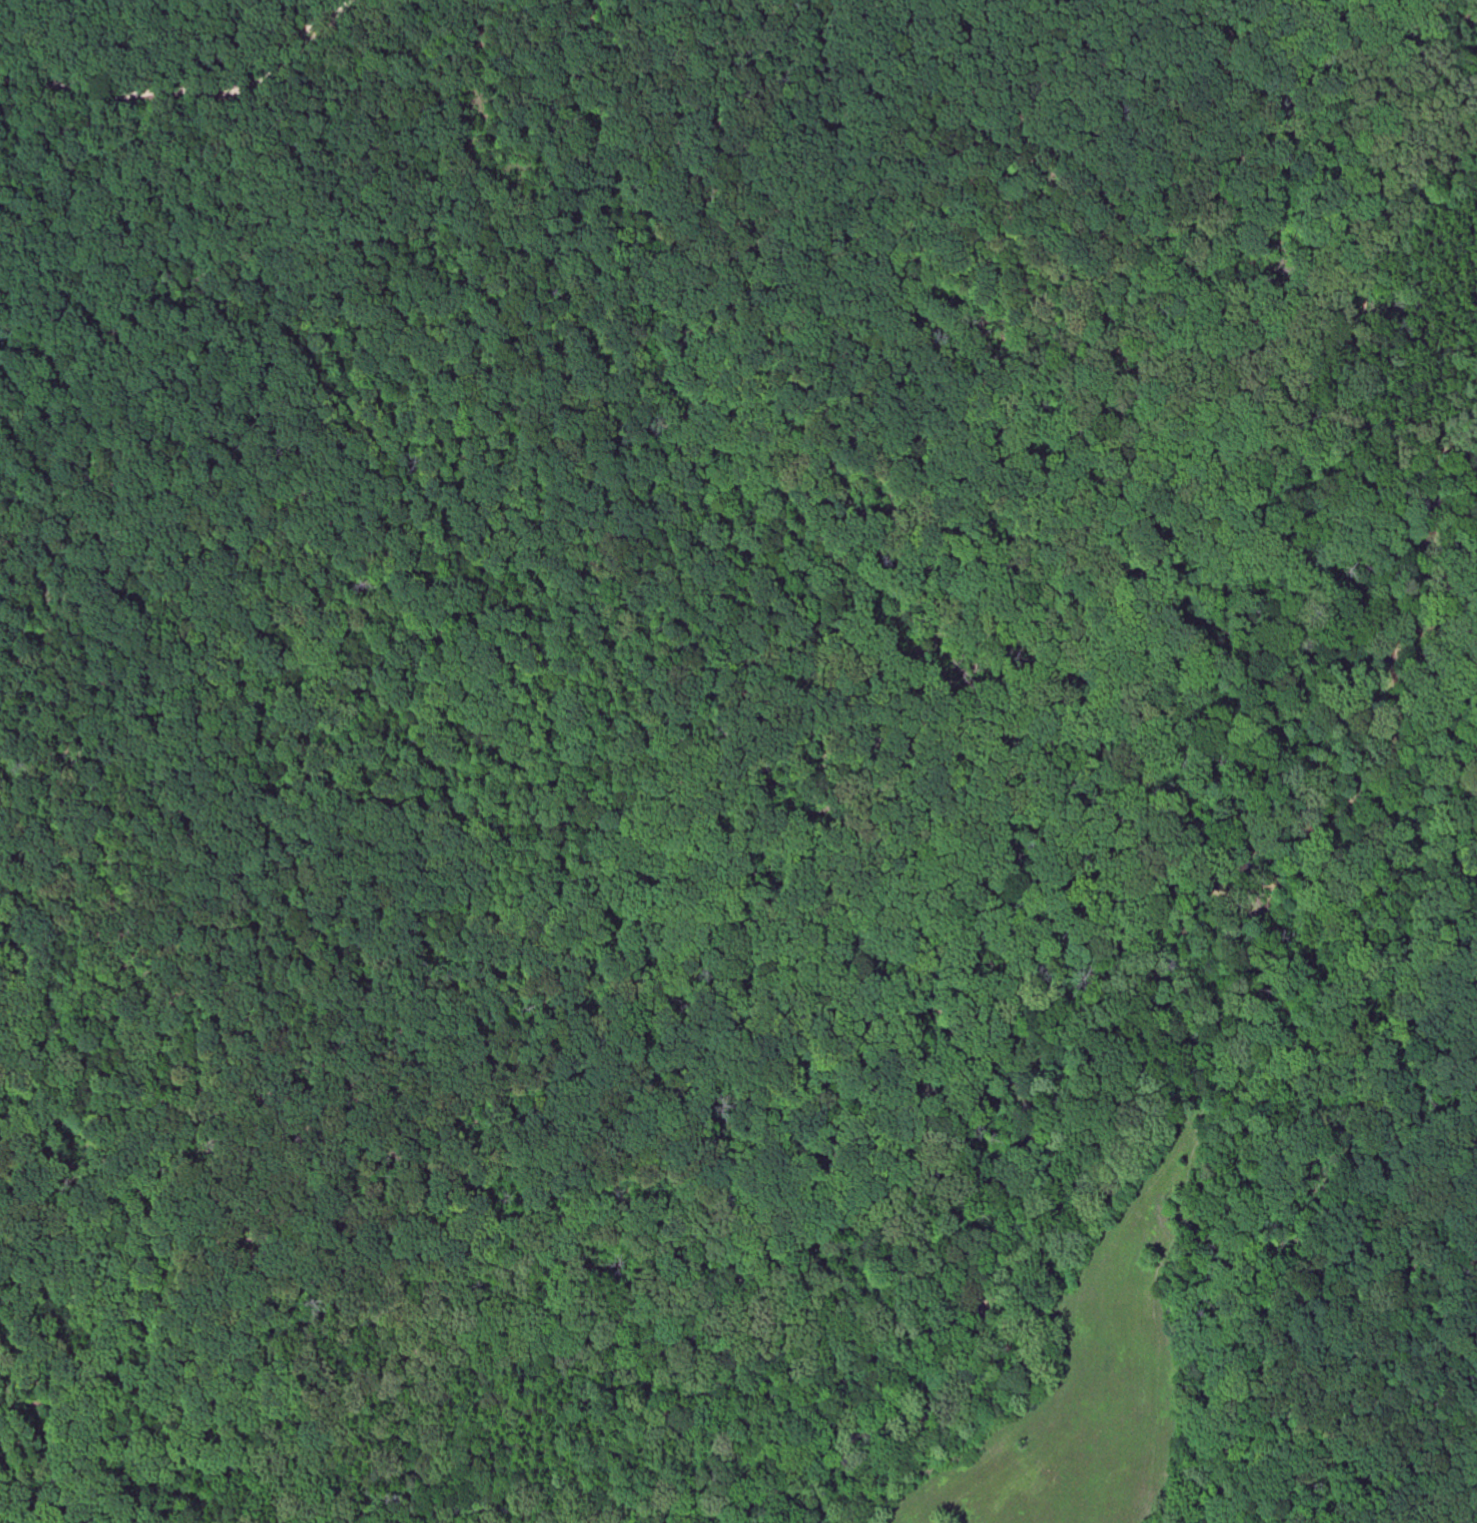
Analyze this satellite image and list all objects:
road: (190, 92)

